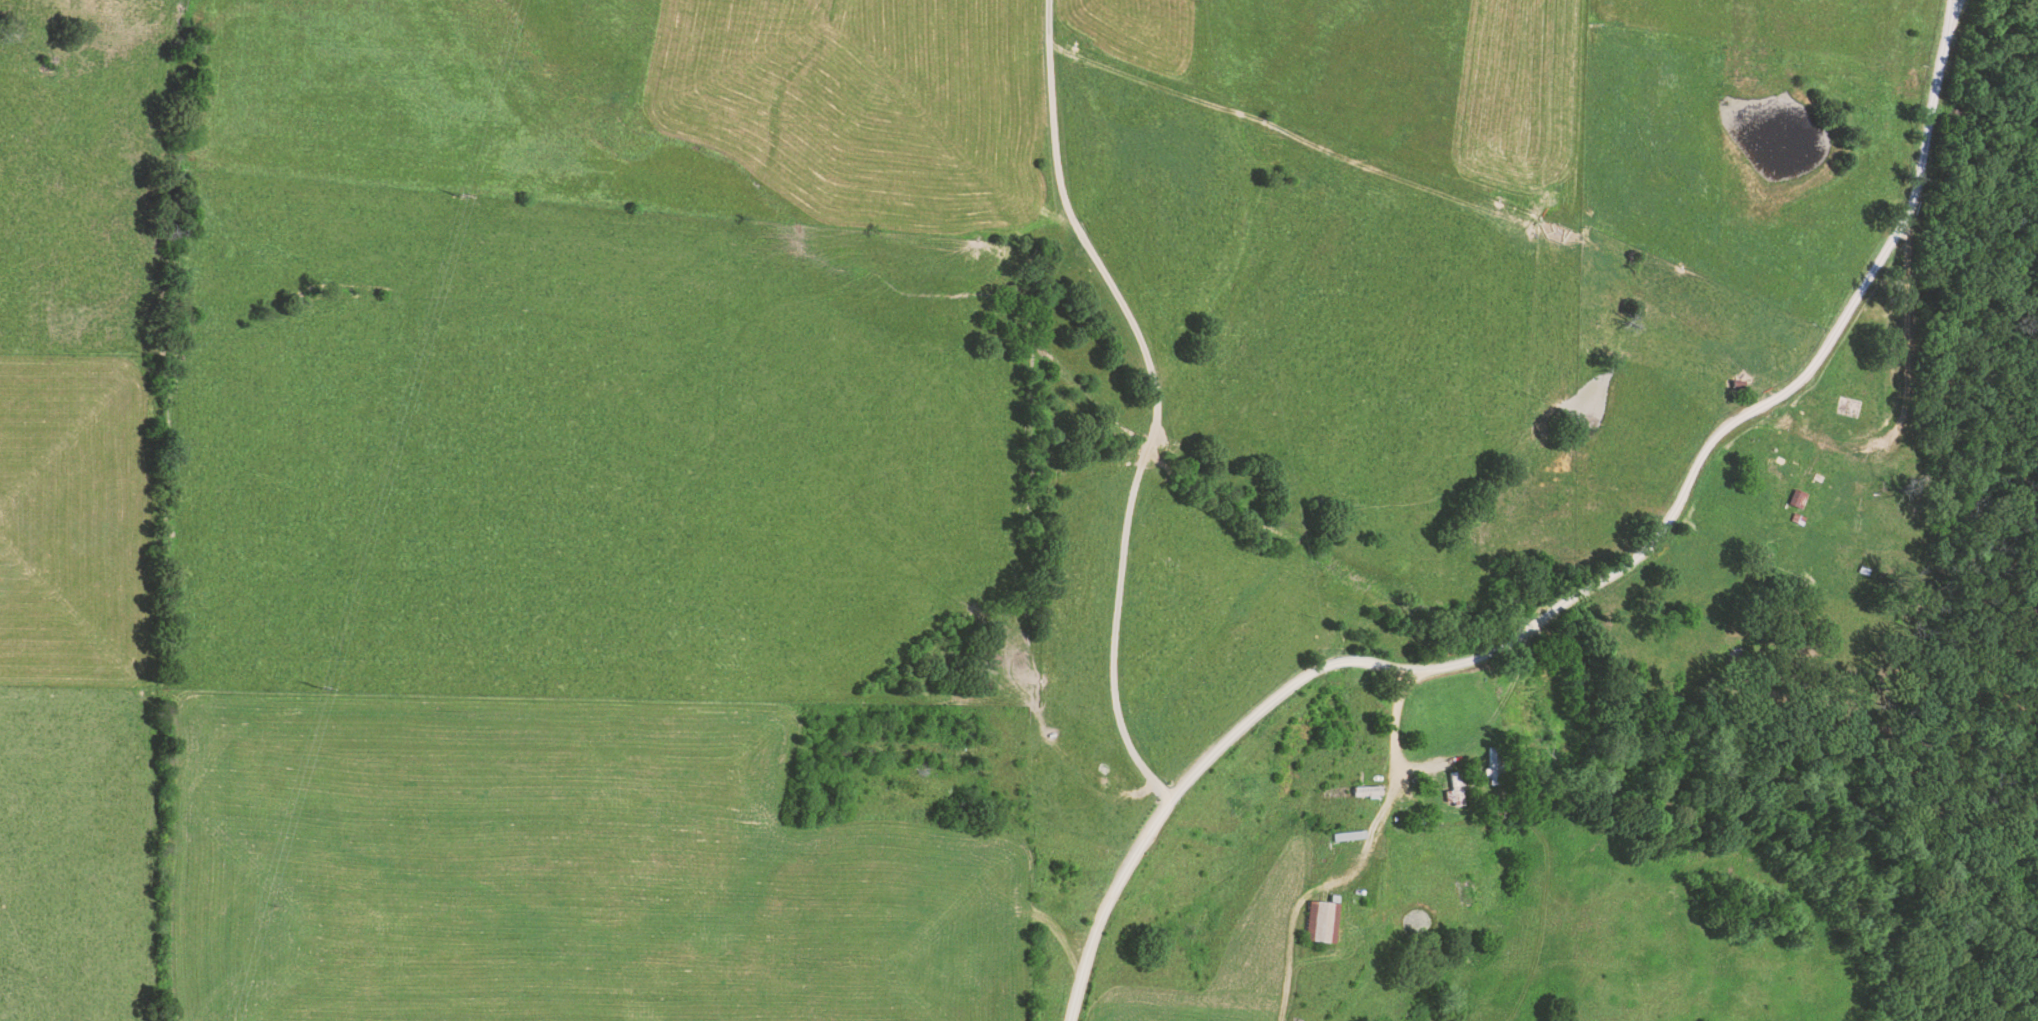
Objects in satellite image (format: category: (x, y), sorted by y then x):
building: (1797, 498)
road: (1614, 611)
building: (1453, 789)
building: (1321, 921)

